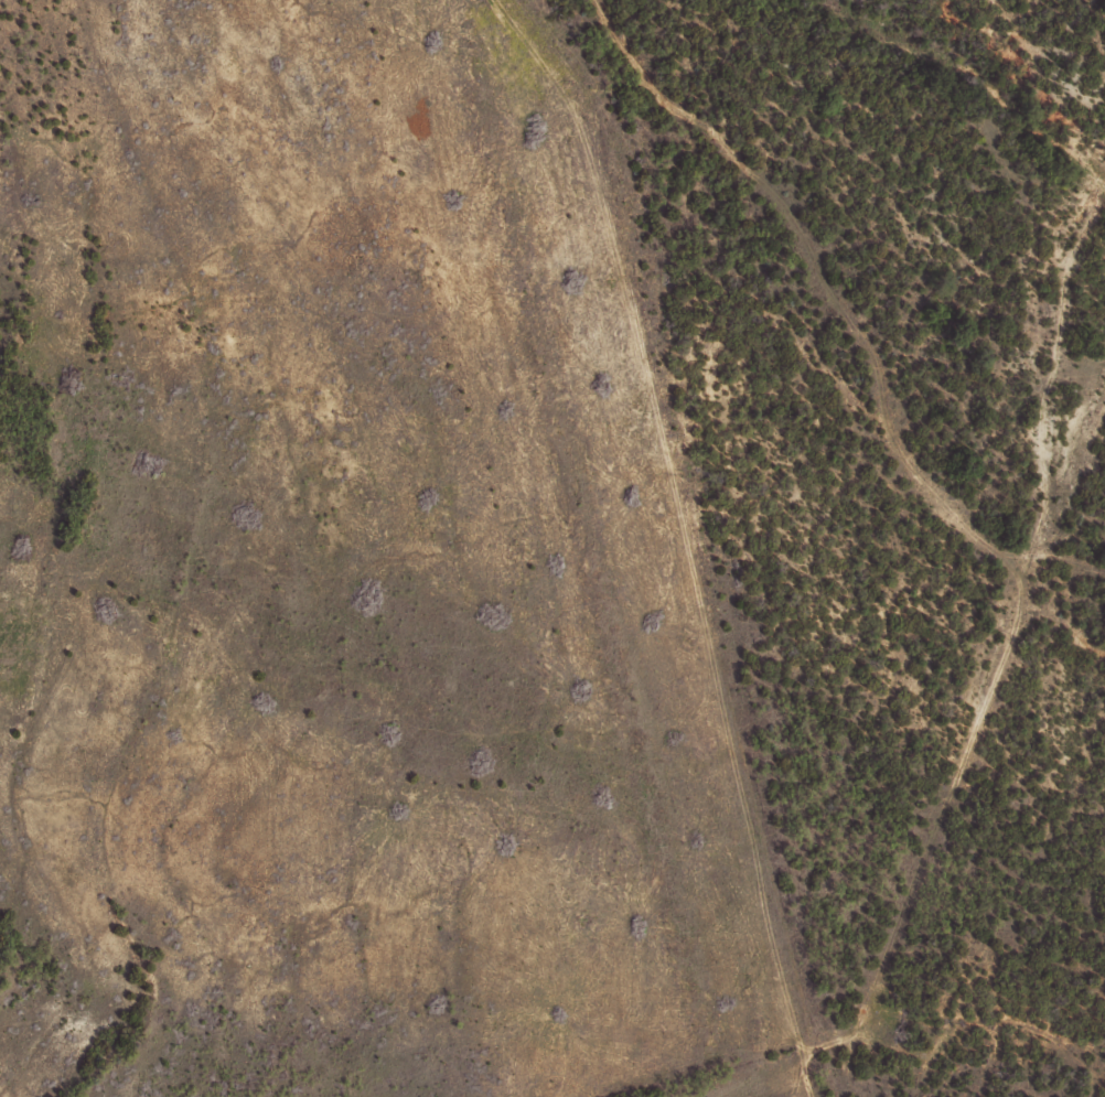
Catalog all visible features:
road: (876, 536)

